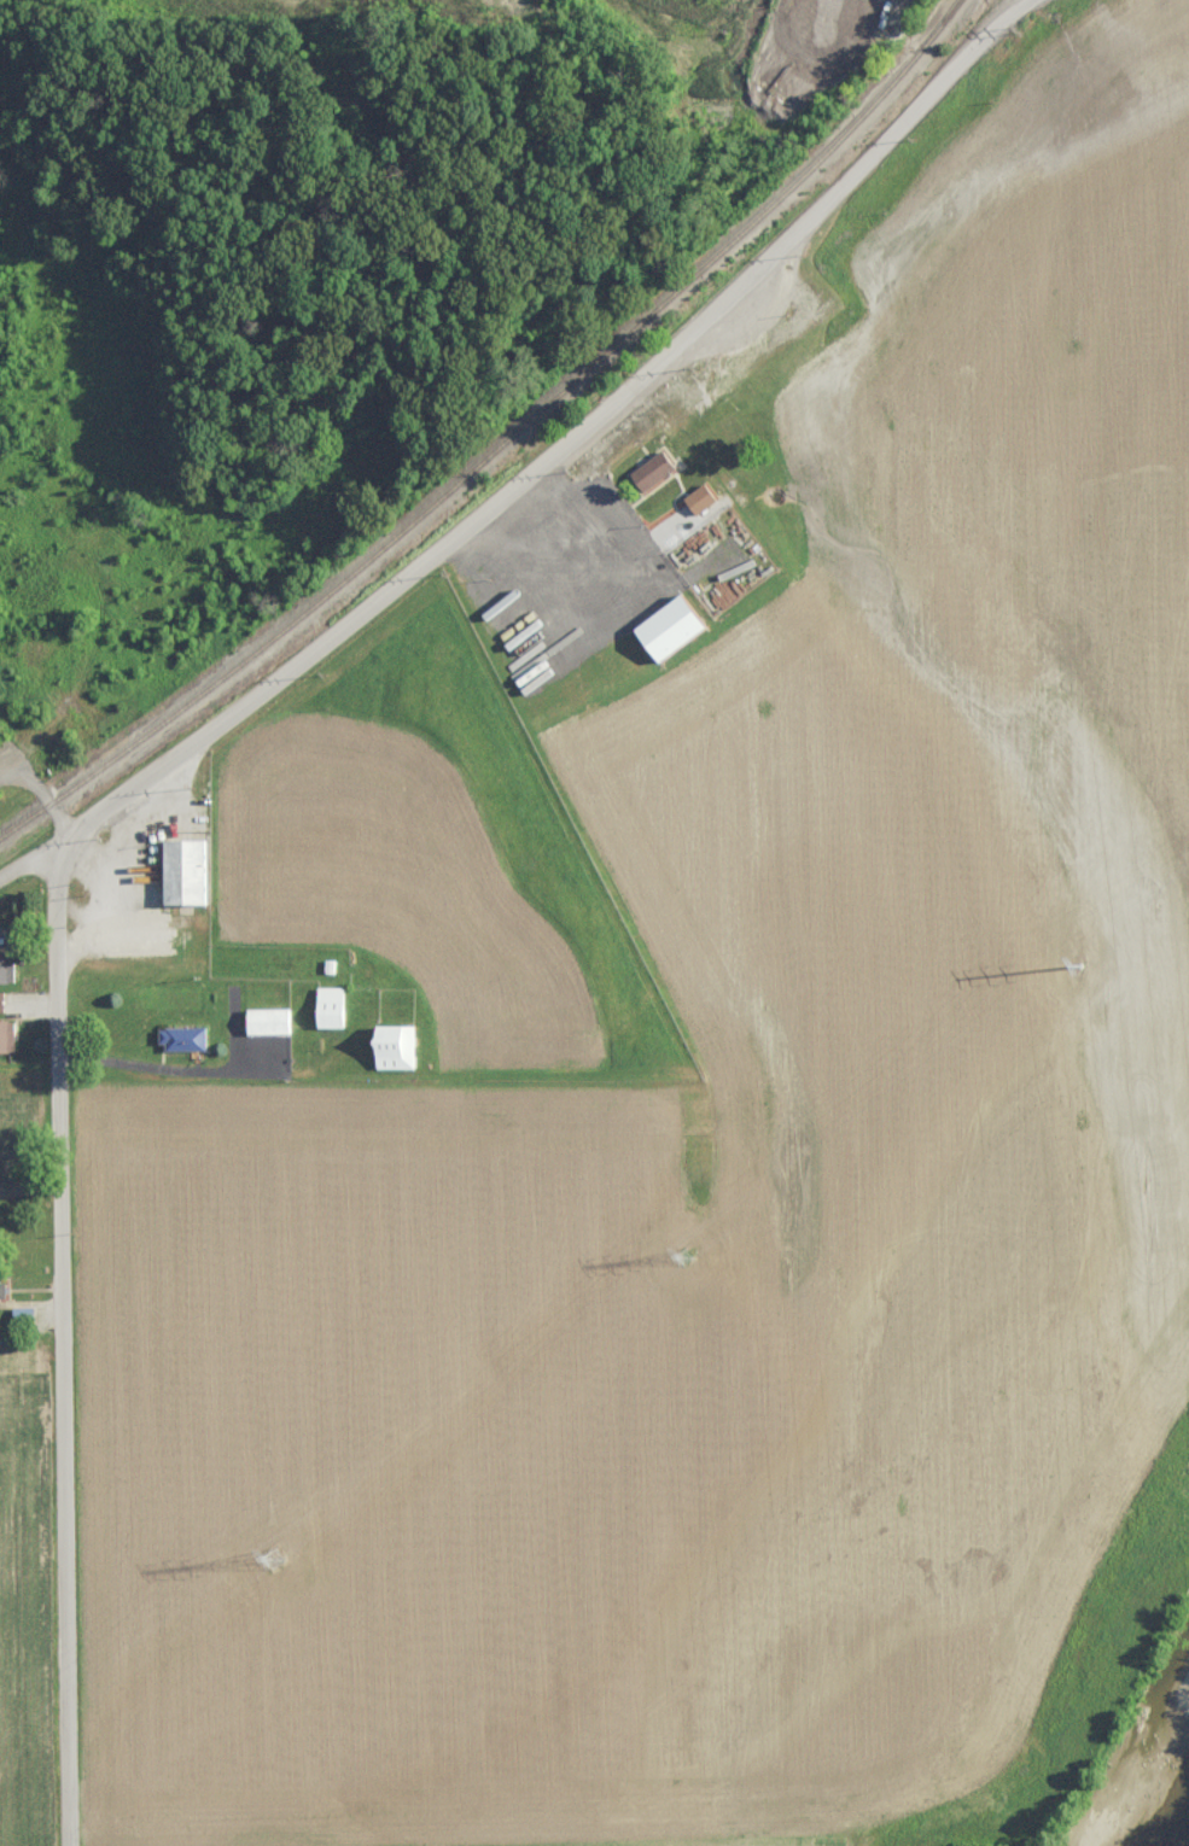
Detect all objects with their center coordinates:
road: (634, 382)
railway: (500, 442)
building: (646, 471)
building: (694, 500)
road: (585, 512)
building: (661, 627)
road: (133, 782)
road: (35, 788)
road: (31, 853)
road: (112, 857)
road: (83, 858)
building: (177, 871)
power tower: (1095, 934)
building: (4, 969)
building: (324, 1006)
building: (263, 1021)
building: (4, 1035)
building: (176, 1038)
building: (387, 1046)
road: (228, 1069)
power tower: (677, 1248)
road: (60, 1339)
power tower: (284, 1542)
river: (1156, 1804)

